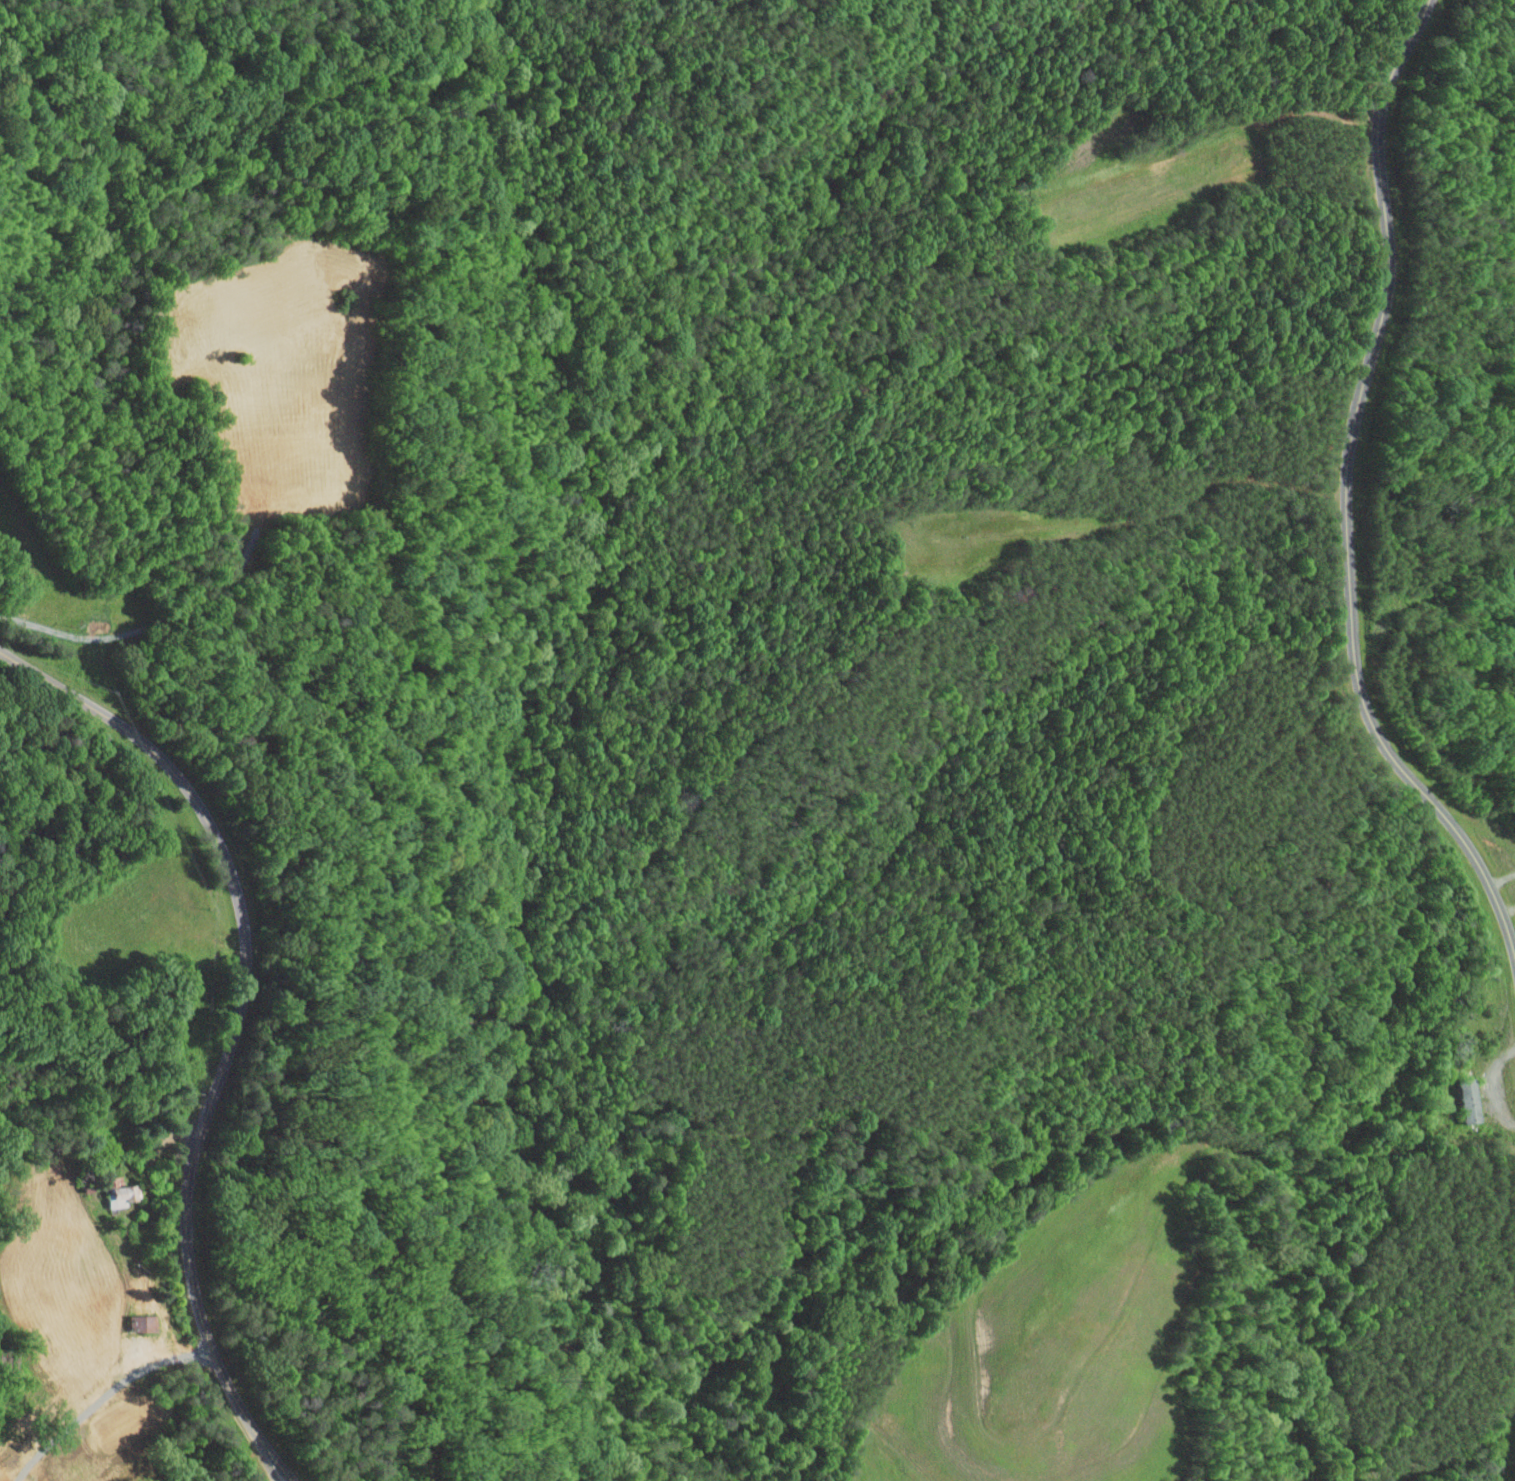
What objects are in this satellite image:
road: (1349, 493)
road: (160, 630)
road: (235, 1028)
building: (1470, 1101)
building: (124, 1196)
road: (272, 1464)

